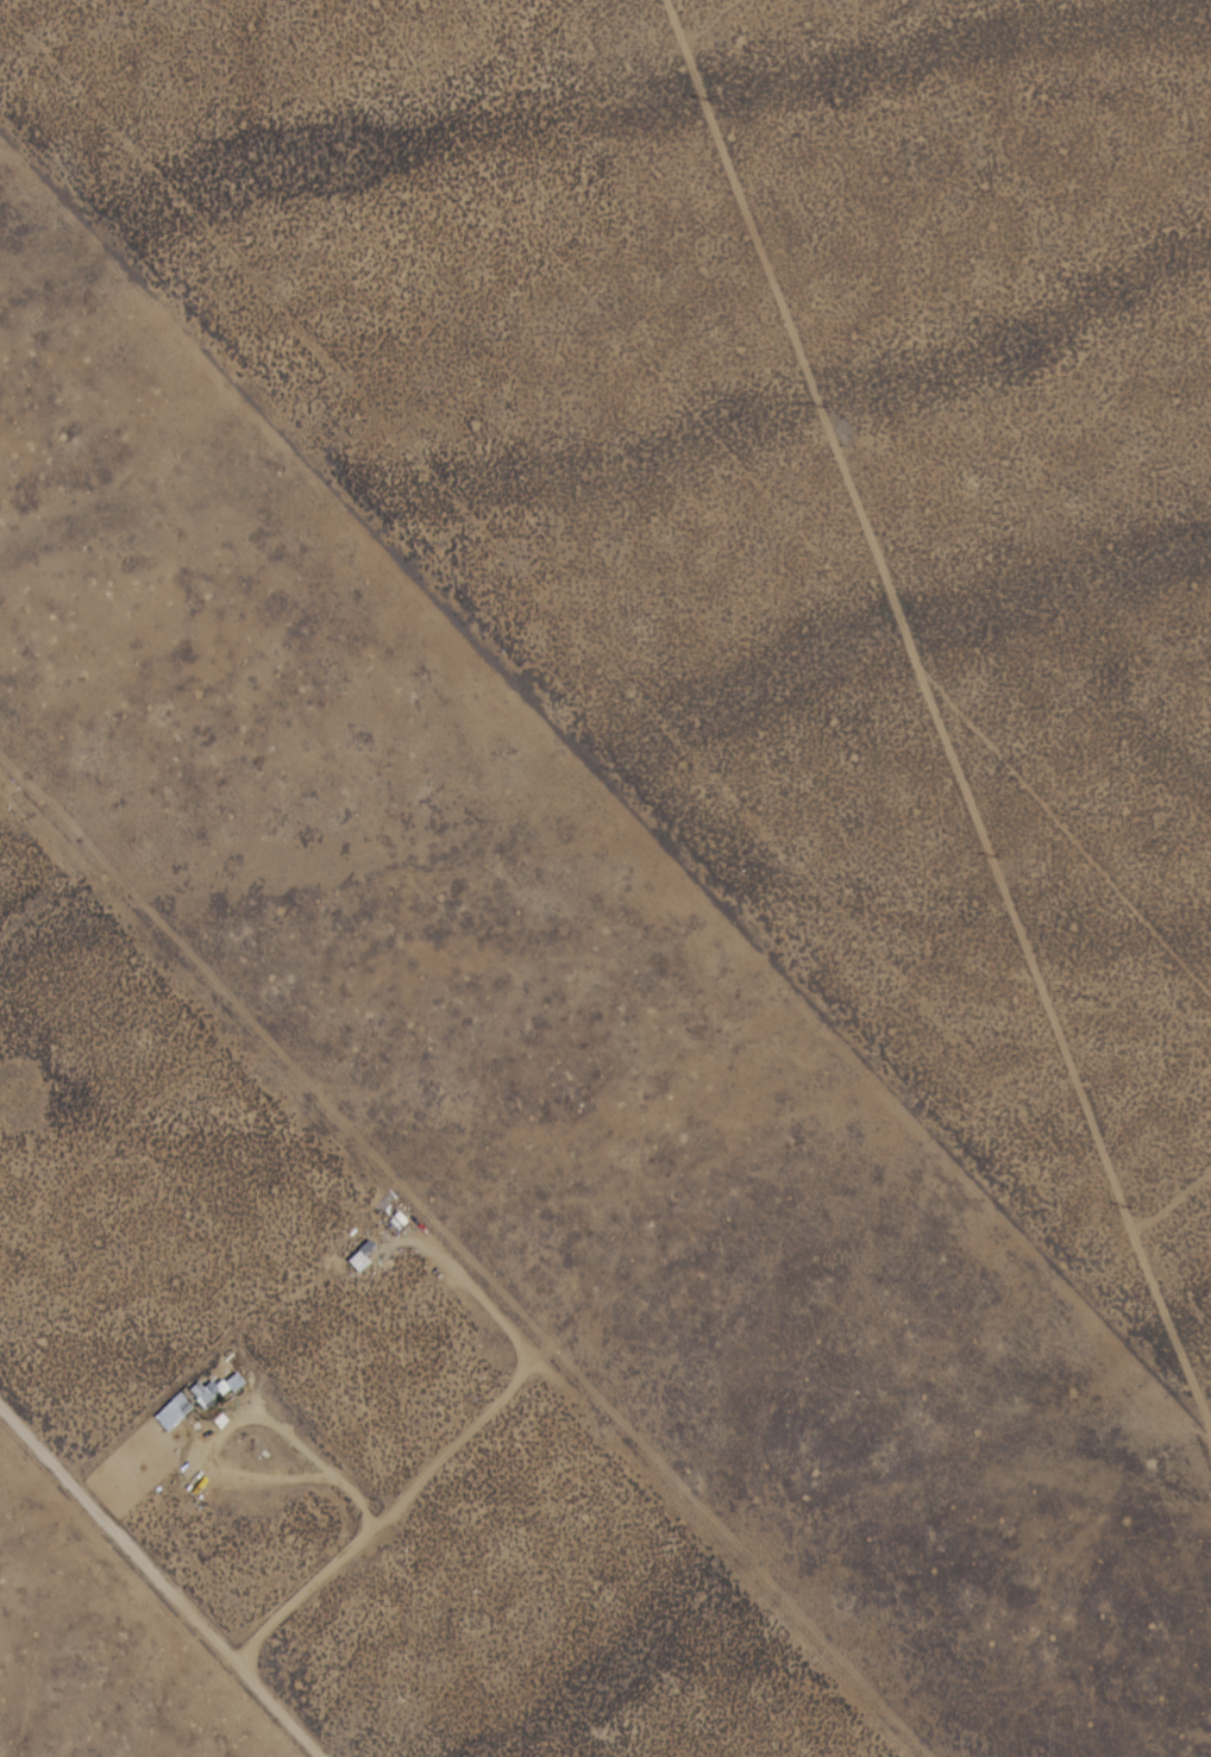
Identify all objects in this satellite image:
road: (161, 1582)

